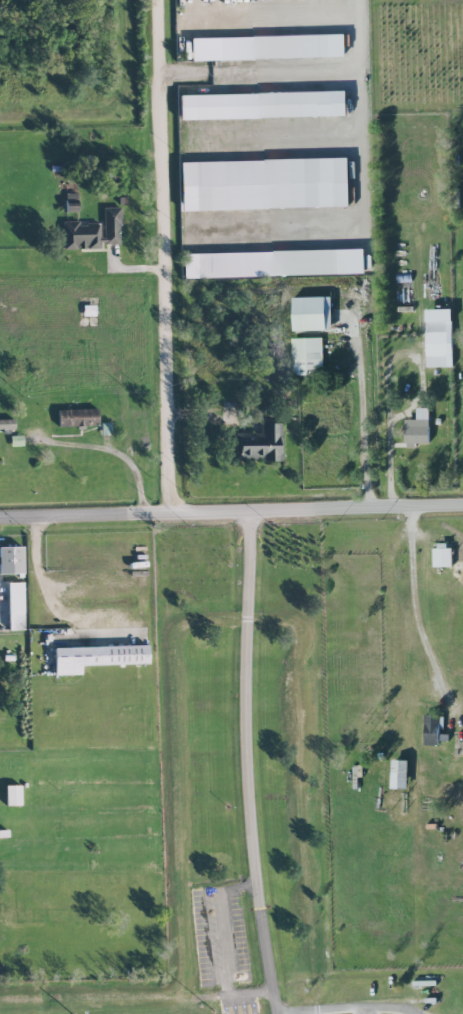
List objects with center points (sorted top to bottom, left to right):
building: (275, 47)
building: (262, 105)
building: (264, 184)
building: (92, 231)
road: (165, 256)
building: (266, 263)
building: (312, 313)
building: (437, 344)
building: (307, 356)
building: (76, 417)
building: (6, 423)
road: (361, 423)
building: (417, 429)
building: (260, 443)
road: (115, 451)
road: (390, 463)
road: (231, 512)
road: (411, 516)
building: (443, 556)
building: (11, 559)
road: (38, 583)
building: (15, 606)
road: (417, 608)
road: (393, 627)
building: (97, 657)
building: (431, 730)
road: (245, 763)
building: (400, 774)
building: (12, 795)
parking lot: (218, 935)
road: (221, 945)
park: (244, 1002)
road: (355, 1011)

